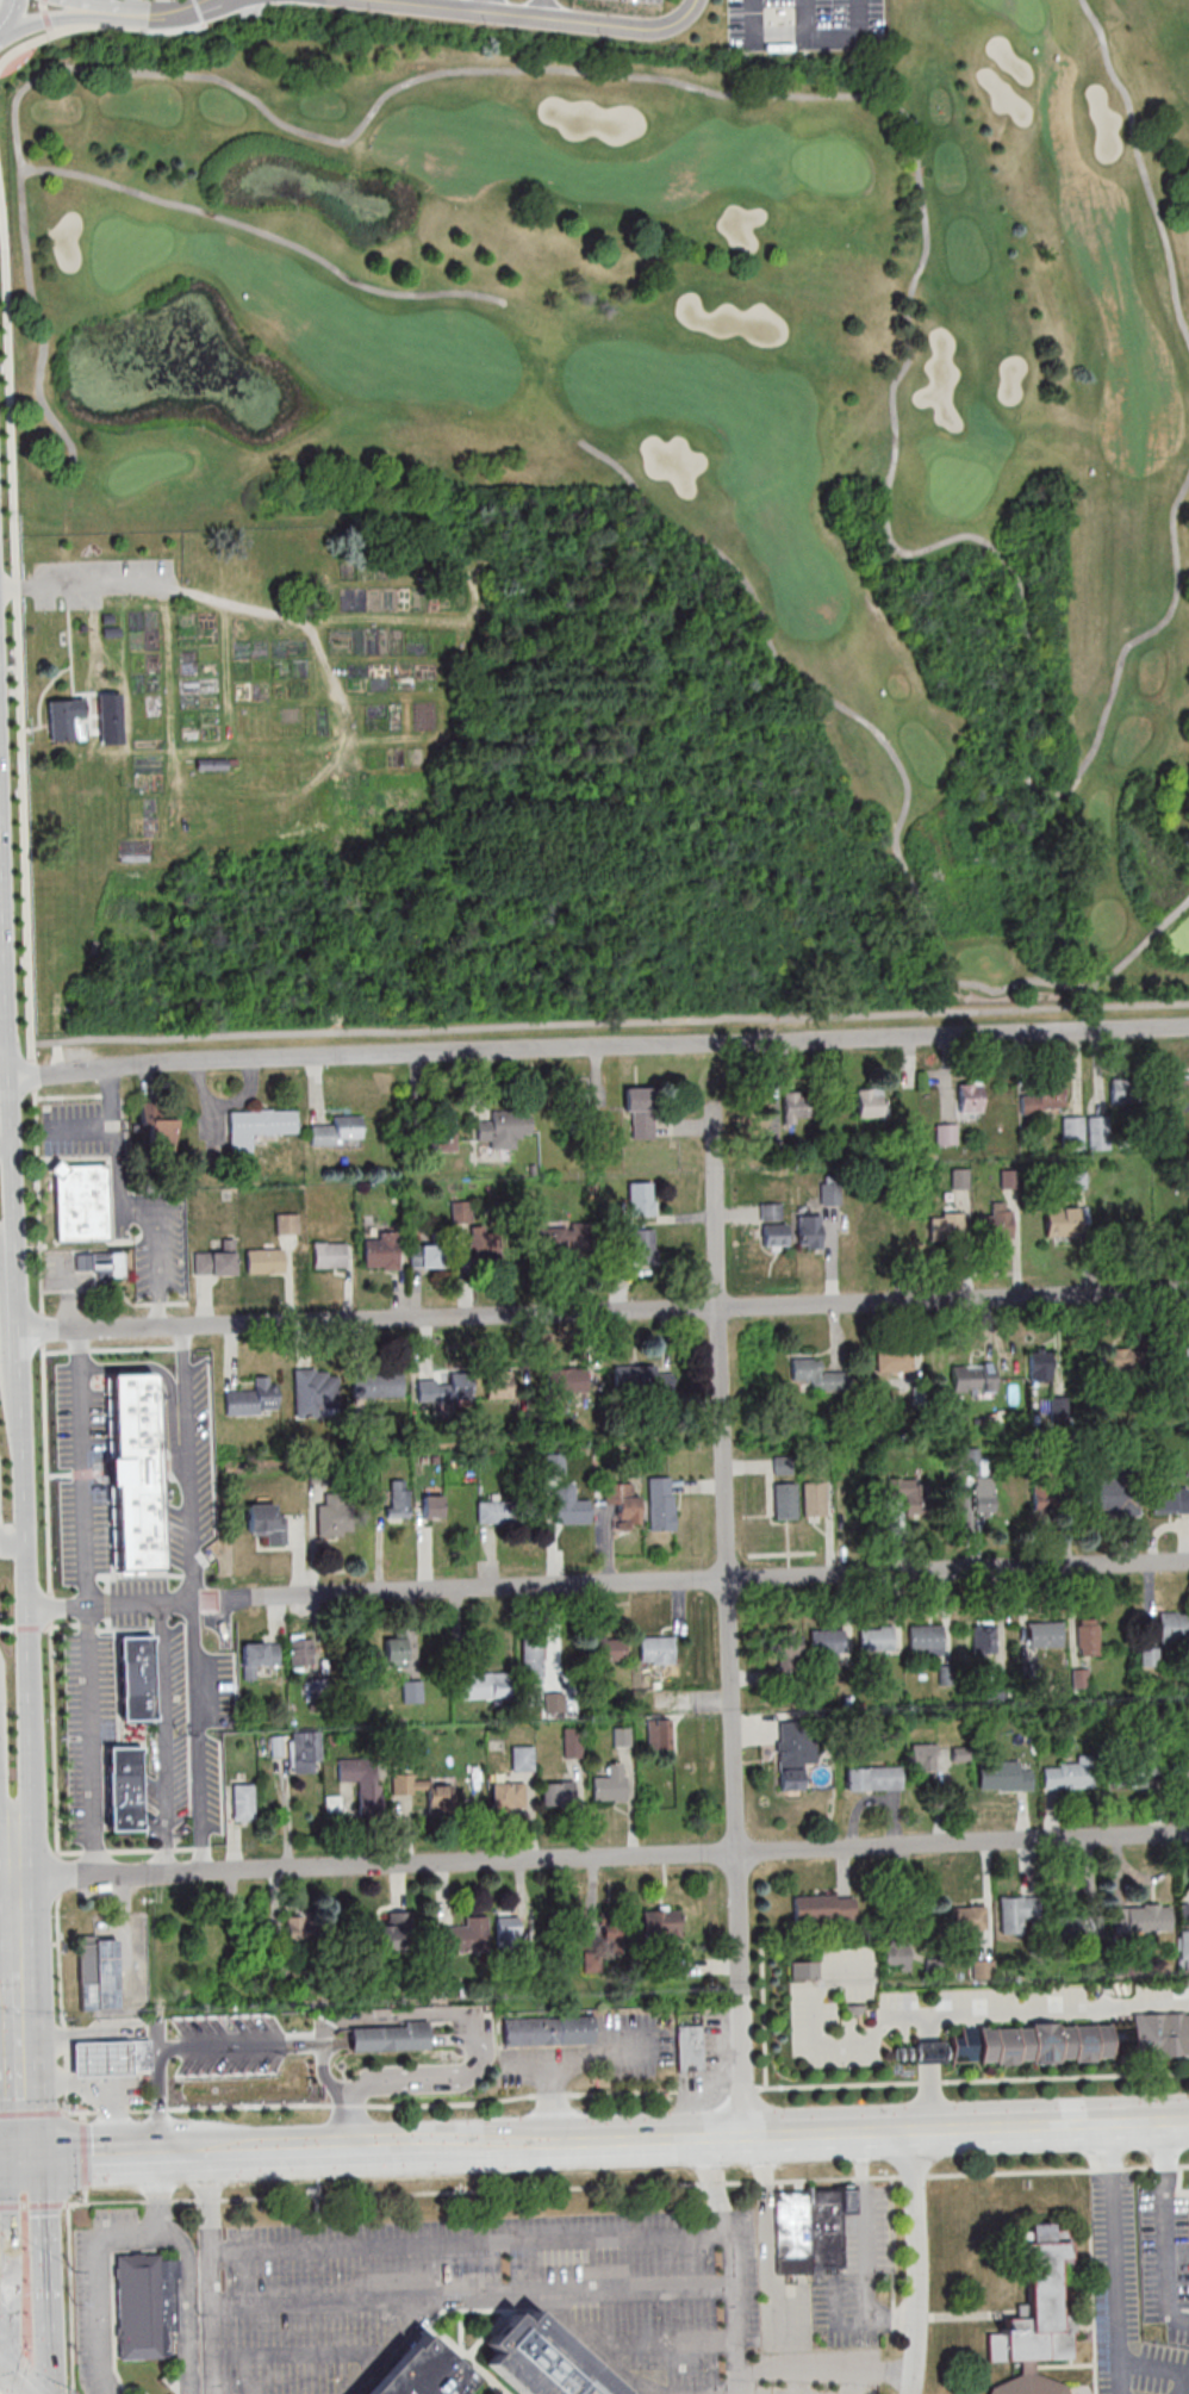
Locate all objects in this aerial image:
parking lot: (642, 2)
road: (124, 8)
road: (11, 11)
road: (198, 12)
road: (187, 15)
road: (45, 17)
road: (542, 18)
road: (85, 21)
road: (752, 21)
road: (97, 25)
parking lot: (805, 25)
road: (4, 26)
park: (471, 30)
road: (832, 42)
road: (779, 43)
road: (841, 98)
road: (1141, 163)
road: (266, 235)
park: (698, 383)
parking lot: (99, 583)
road: (85, 584)
road: (15, 629)
road: (768, 648)
road: (71, 688)
road: (42, 690)
building: (63, 716)
road: (82, 722)
road: (35, 727)
road: (396, 741)
building: (212, 764)
road: (683, 766)
road: (306, 788)
park: (440, 788)
road: (847, 808)
road: (919, 898)
road: (1054, 984)
road: (609, 1021)
road: (597, 1041)
road: (6, 1056)
building: (1123, 1090)
building: (1177, 1093)
building: (1044, 1095)
road: (68, 1096)
building: (970, 1096)
building: (870, 1101)
building: (799, 1106)
building: (640, 1111)
building: (581, 1113)
road: (4, 1121)
road: (110, 1126)
building: (257, 1126)
building: (158, 1127)
building: (504, 1128)
building: (338, 1132)
building: (1097, 1132)
building: (442, 1133)
building: (947, 1133)
building: (1073, 1133)
building: (960, 1179)
building: (830, 1193)
building: (641, 1199)
building: (81, 1201)
building: (460, 1212)
road: (155, 1218)
building: (997, 1221)
building: (1062, 1221)
building: (946, 1225)
building: (872, 1230)
building: (809, 1231)
building: (776, 1236)
building: (560, 1239)
road: (6, 1242)
building: (643, 1245)
building: (485, 1246)
building: (380, 1251)
building: (330, 1255)
building: (427, 1255)
building: (216, 1261)
building: (263, 1261)
building: (100, 1264)
road: (118, 1288)
road: (602, 1311)
road: (15, 1347)
building: (1187, 1358)
building: (895, 1360)
building: (1122, 1361)
building: (1041, 1366)
building: (818, 1375)
building: (973, 1378)
building: (566, 1380)
building: (628, 1380)
building: (662, 1381)
building: (511, 1383)
building: (376, 1385)
building: (440, 1389)
building: (312, 1393)
building: (253, 1398)
road: (185, 1465)
road: (80, 1469)
road: (48, 1476)
building: (1115, 1493)
building: (1042, 1494)
building: (908, 1496)
building: (983, 1498)
building: (814, 1499)
building: (785, 1500)
building: (1169, 1500)
building: (661, 1503)
building: (571, 1504)
building: (624, 1504)
building: (415, 1506)
building: (494, 1511)
building: (329, 1518)
building: (266, 1523)
road: (605, 1584)
road: (10, 1590)
road: (100, 1623)
road: (729, 1623)
building: (1174, 1627)
building: (1042, 1634)
building: (923, 1637)
building: (1088, 1637)
building: (873, 1639)
building: (983, 1639)
building: (826, 1640)
building: (785, 1643)
building: (300, 1649)
building: (396, 1649)
building: (609, 1649)
building: (656, 1649)
building: (259, 1656)
building: (533, 1661)
road: (25, 1667)
road: (192, 1668)
building: (136, 1678)
building: (485, 1685)
building: (412, 1691)
building: (554, 1702)
building: (659, 1734)
building: (622, 1736)
road: (163, 1737)
road: (91, 1739)
building: (572, 1743)
building: (304, 1751)
building: (925, 1756)
building: (523, 1758)
building: (791, 1761)
building: (1133, 1770)
building: (1183, 1772)
building: (1004, 1776)
building: (1067, 1776)
building: (873, 1778)
building: (363, 1781)
building: (610, 1784)
building: (124, 1787)
building: (423, 1789)
building: (558, 1793)
building: (509, 1795)
building: (243, 1803)
building: (332, 1803)
road: (198, 1804)
road: (125, 1849)
road: (695, 1853)
road: (5, 1860)
road: (185, 1872)
road: (89, 1876)
road: (11, 1888)
building: (824, 1908)
building: (1016, 1914)
building: (967, 1917)
building: (1147, 1920)
building: (661, 1923)
building: (1078, 1926)
building: (301, 1927)
building: (508, 1928)
building: (614, 1928)
building: (578, 1929)
building: (391, 1933)
road: (13, 1935)
building: (463, 1936)
building: (1183, 1947)
building: (897, 1954)
building: (934, 1967)
building: (983, 1969)
building: (805, 1970)
building: (98, 1973)
road: (8, 1983)
road: (61, 2003)
road: (1044, 2010)
road: (448, 2014)
road: (764, 2021)
building: (550, 2031)
building: (390, 2037)
road: (818, 2041)
building: (1073, 2041)
road: (191, 2048)
building: (690, 2048)
building: (928, 2052)
road: (927, 2053)
building: (138, 2056)
building: (99, 2059)
building: (198, 2060)
road: (19, 2065)
road: (972, 2081)
road: (928, 2097)
road: (379, 2103)
road: (354, 2119)
road: (734, 2138)
road: (254, 2153)
road: (68, 2154)
road: (200, 2154)
road: (97, 2158)
road: (10, 2162)
traffic signals: (20, 2162)
road: (627, 2184)
building: (810, 2227)
road: (1162, 2230)
road: (513, 2238)
road: (863, 2249)
road: (97, 2253)
road: (895, 2259)
road: (1116, 2259)
road: (917, 2263)
road: (210, 2274)
road: (2, 2275)
road: (45, 2275)
road: (71, 2294)
road: (521, 2295)
building: (147, 2306)
road: (735, 2312)
building: (1037, 2315)
building: (544, 2362)
traffic signals: (5, 2370)
building: (422, 2373)
road: (823, 2373)
road: (12, 2379)

